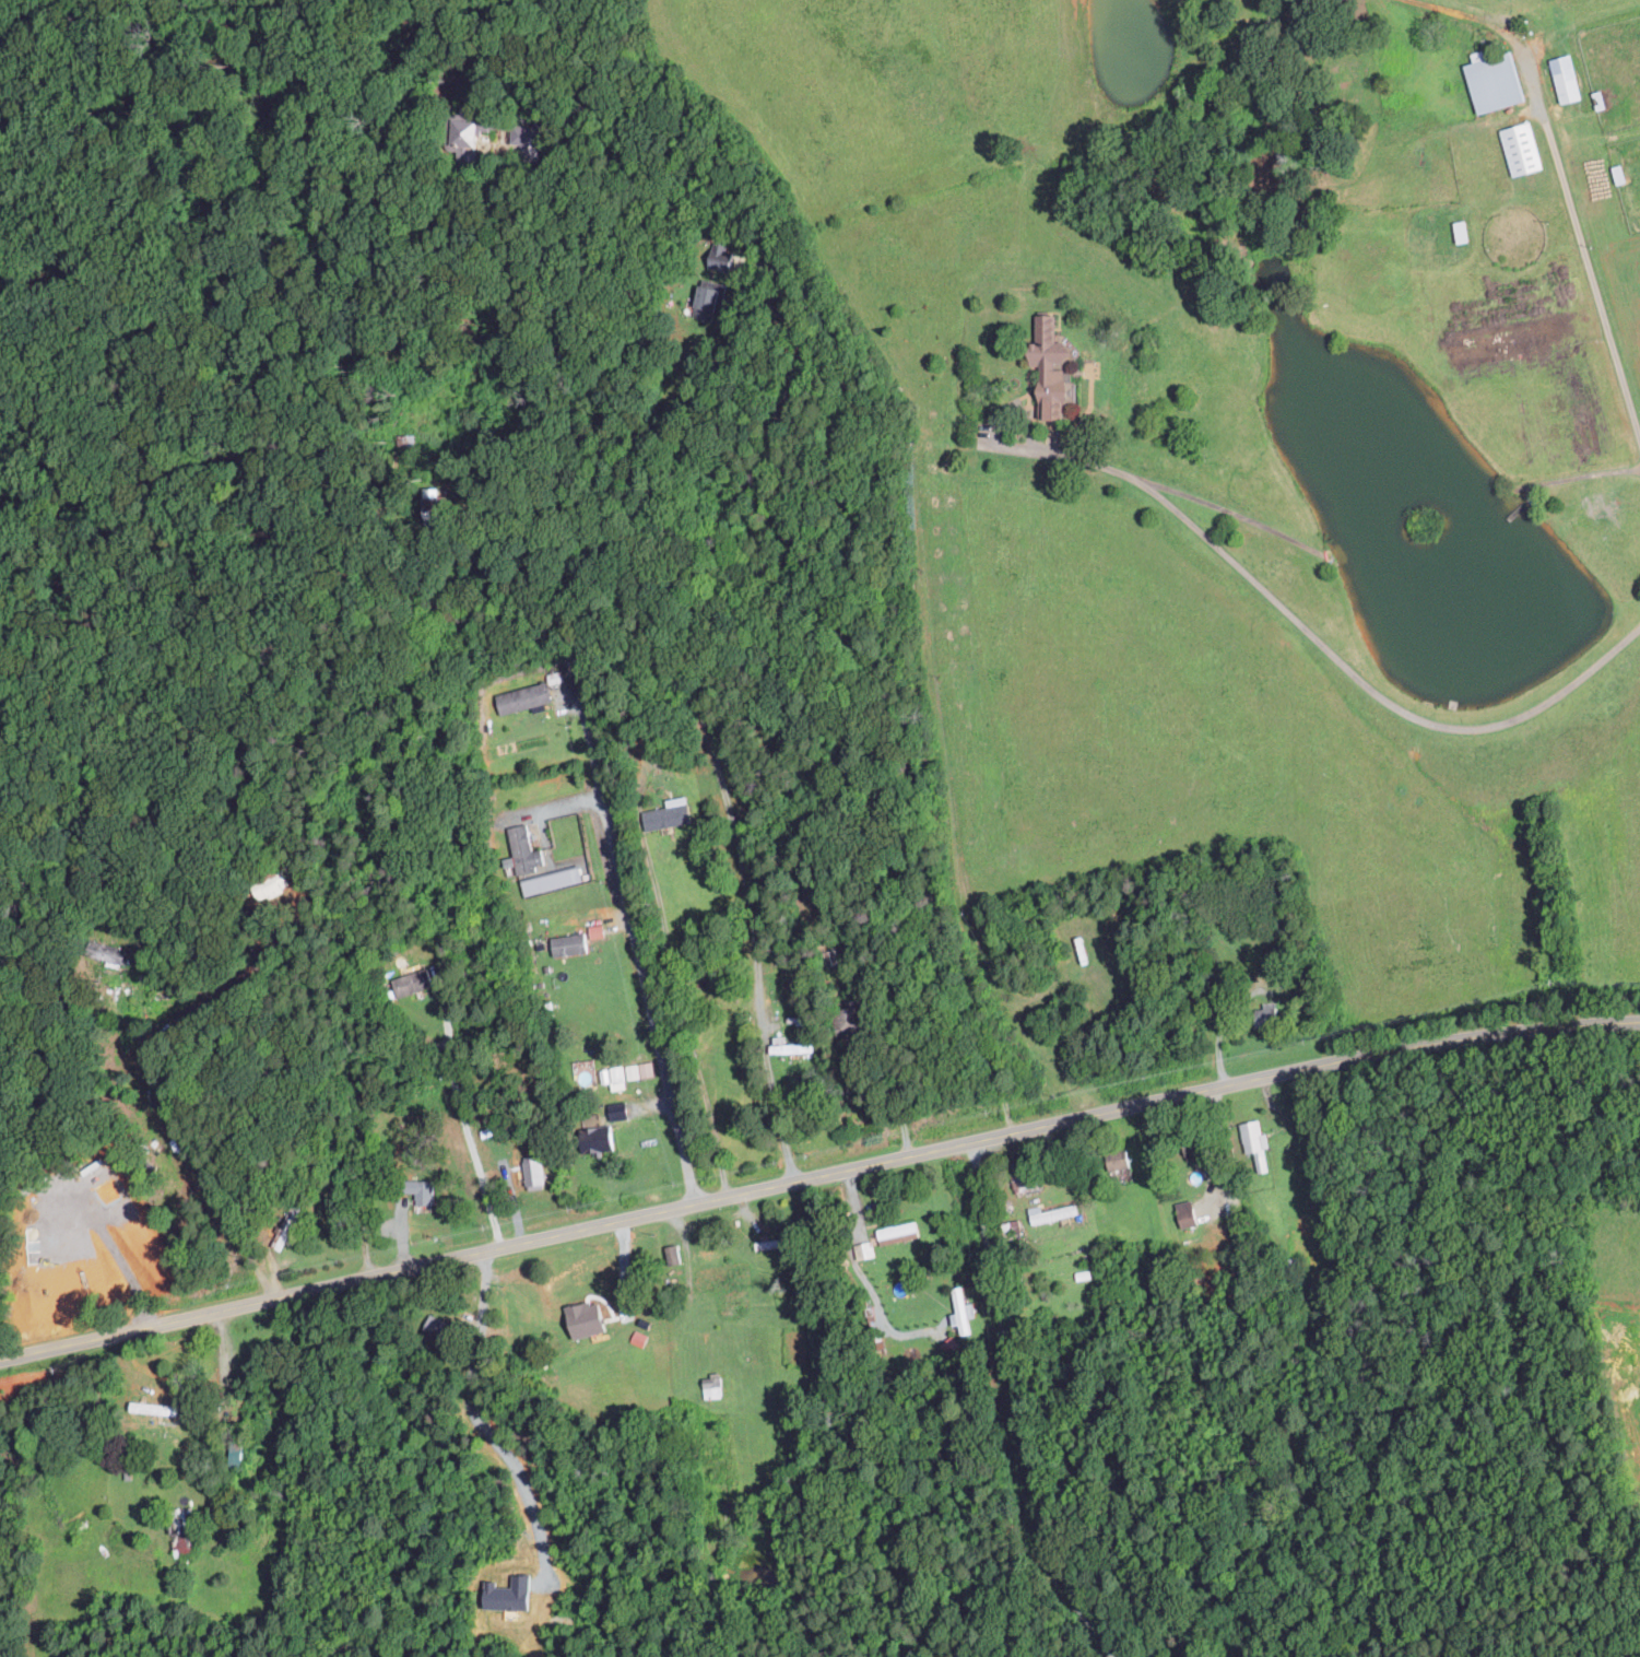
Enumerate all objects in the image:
road: (359, 50)
building: (1567, 78)
building: (1497, 82)
building: (469, 129)
building: (526, 137)
building: (1523, 148)
road: (1580, 234)
building: (709, 301)
building: (1053, 365)
road: (999, 419)
building: (434, 504)
road: (224, 649)
road: (1332, 651)
building: (523, 697)
road: (699, 700)
building: (669, 814)
building: (529, 855)
building: (273, 884)
building: (597, 930)
road: (635, 942)
building: (569, 944)
building: (413, 982)
road: (219, 996)
building: (790, 1045)
building: (634, 1070)
building: (614, 1076)
road: (894, 1089)
building: (618, 1109)
road: (462, 1117)
road: (1222, 1120)
building: (601, 1138)
building: (1256, 1141)
road: (196, 1147)
road: (1055, 1171)
road: (817, 1176)
building: (424, 1194)
building: (1052, 1212)
building: (1188, 1212)
building: (899, 1232)
building: (674, 1254)
road: (128, 1273)
building: (724, 1276)
road: (863, 1276)
building: (963, 1312)
road: (227, 1365)
building: (719, 1384)
building: (155, 1407)
road: (1017, 1407)
building: (182, 1546)

